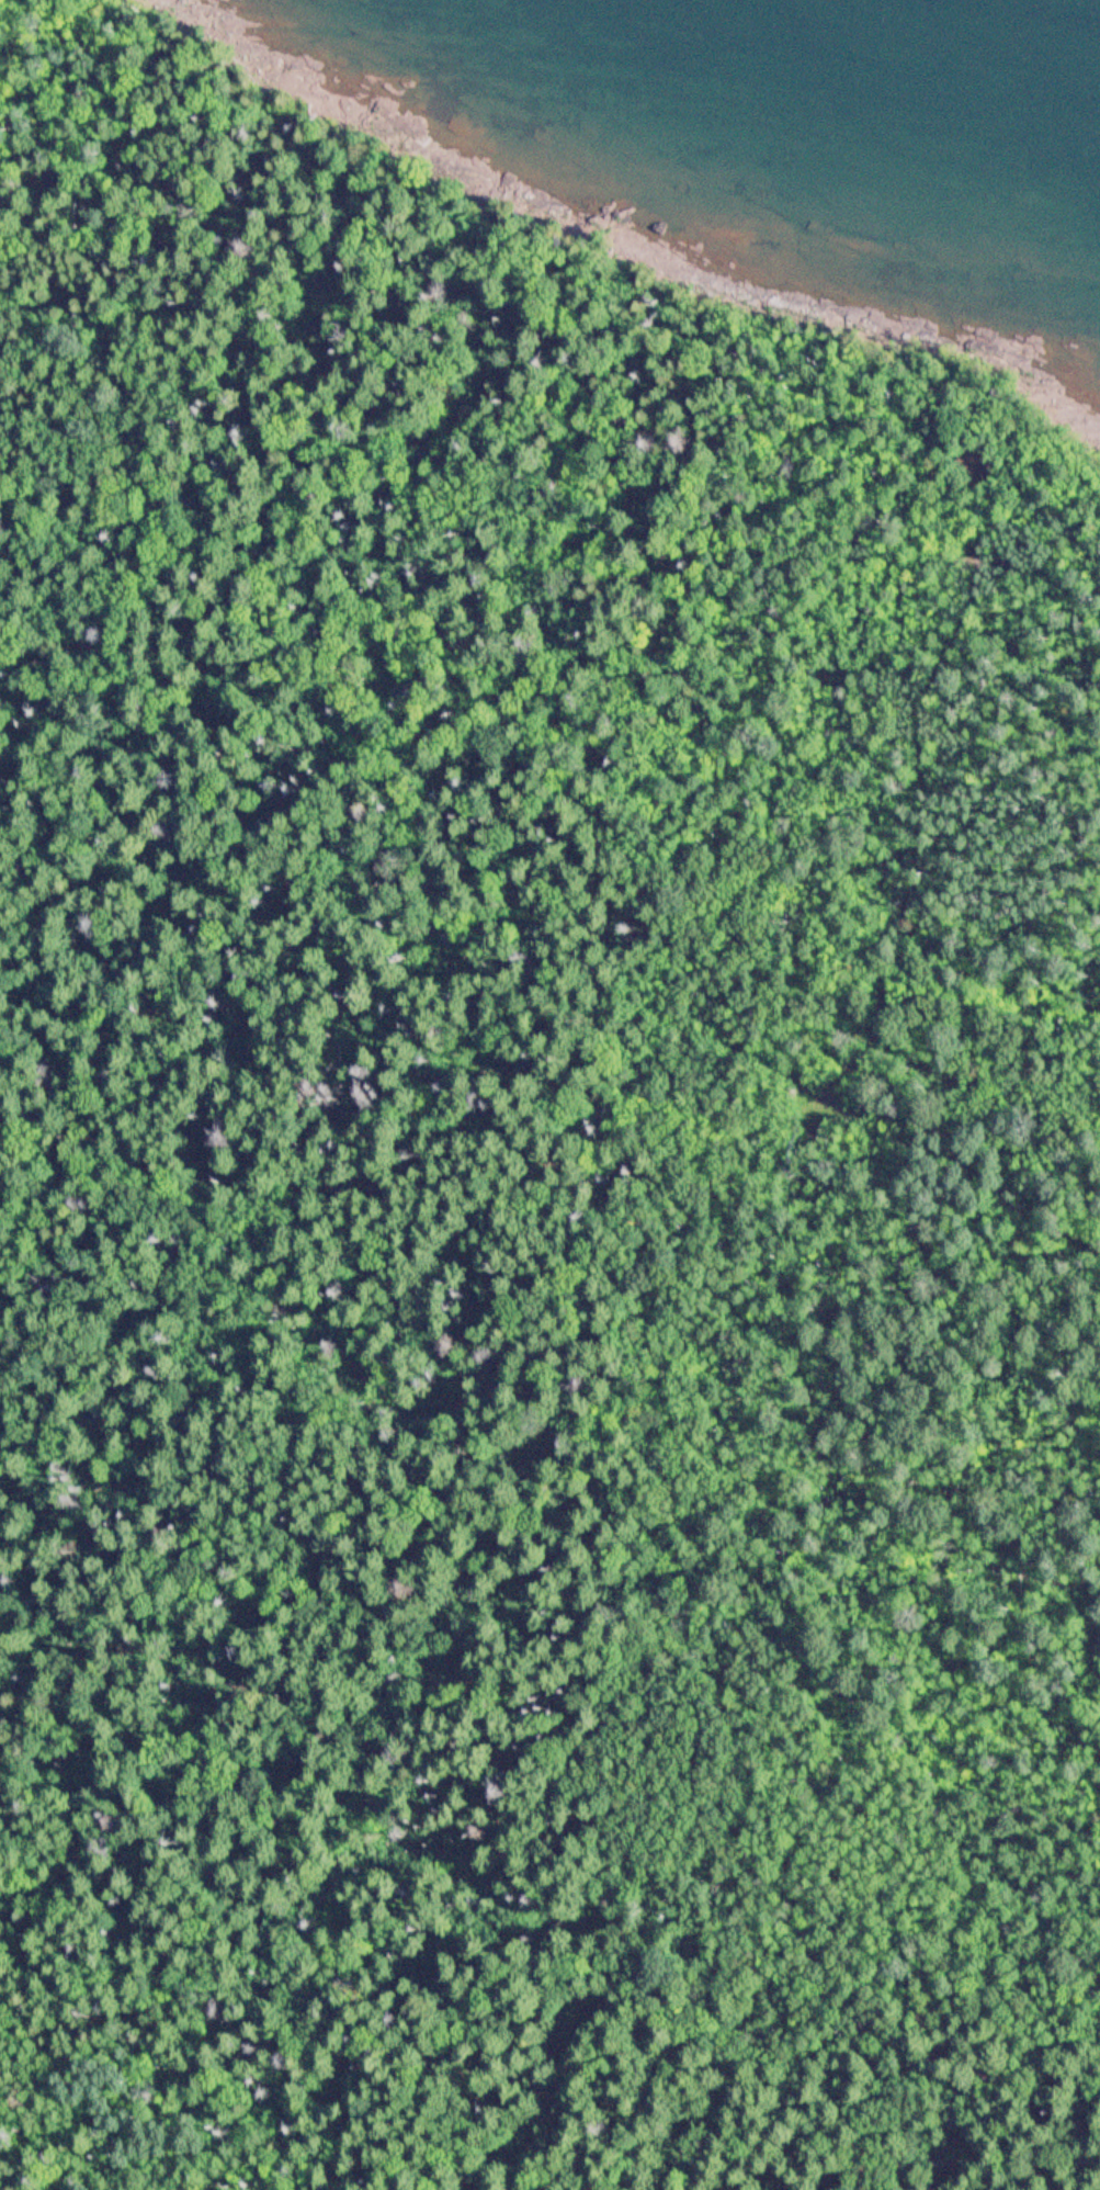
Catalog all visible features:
building: (982, 471)

